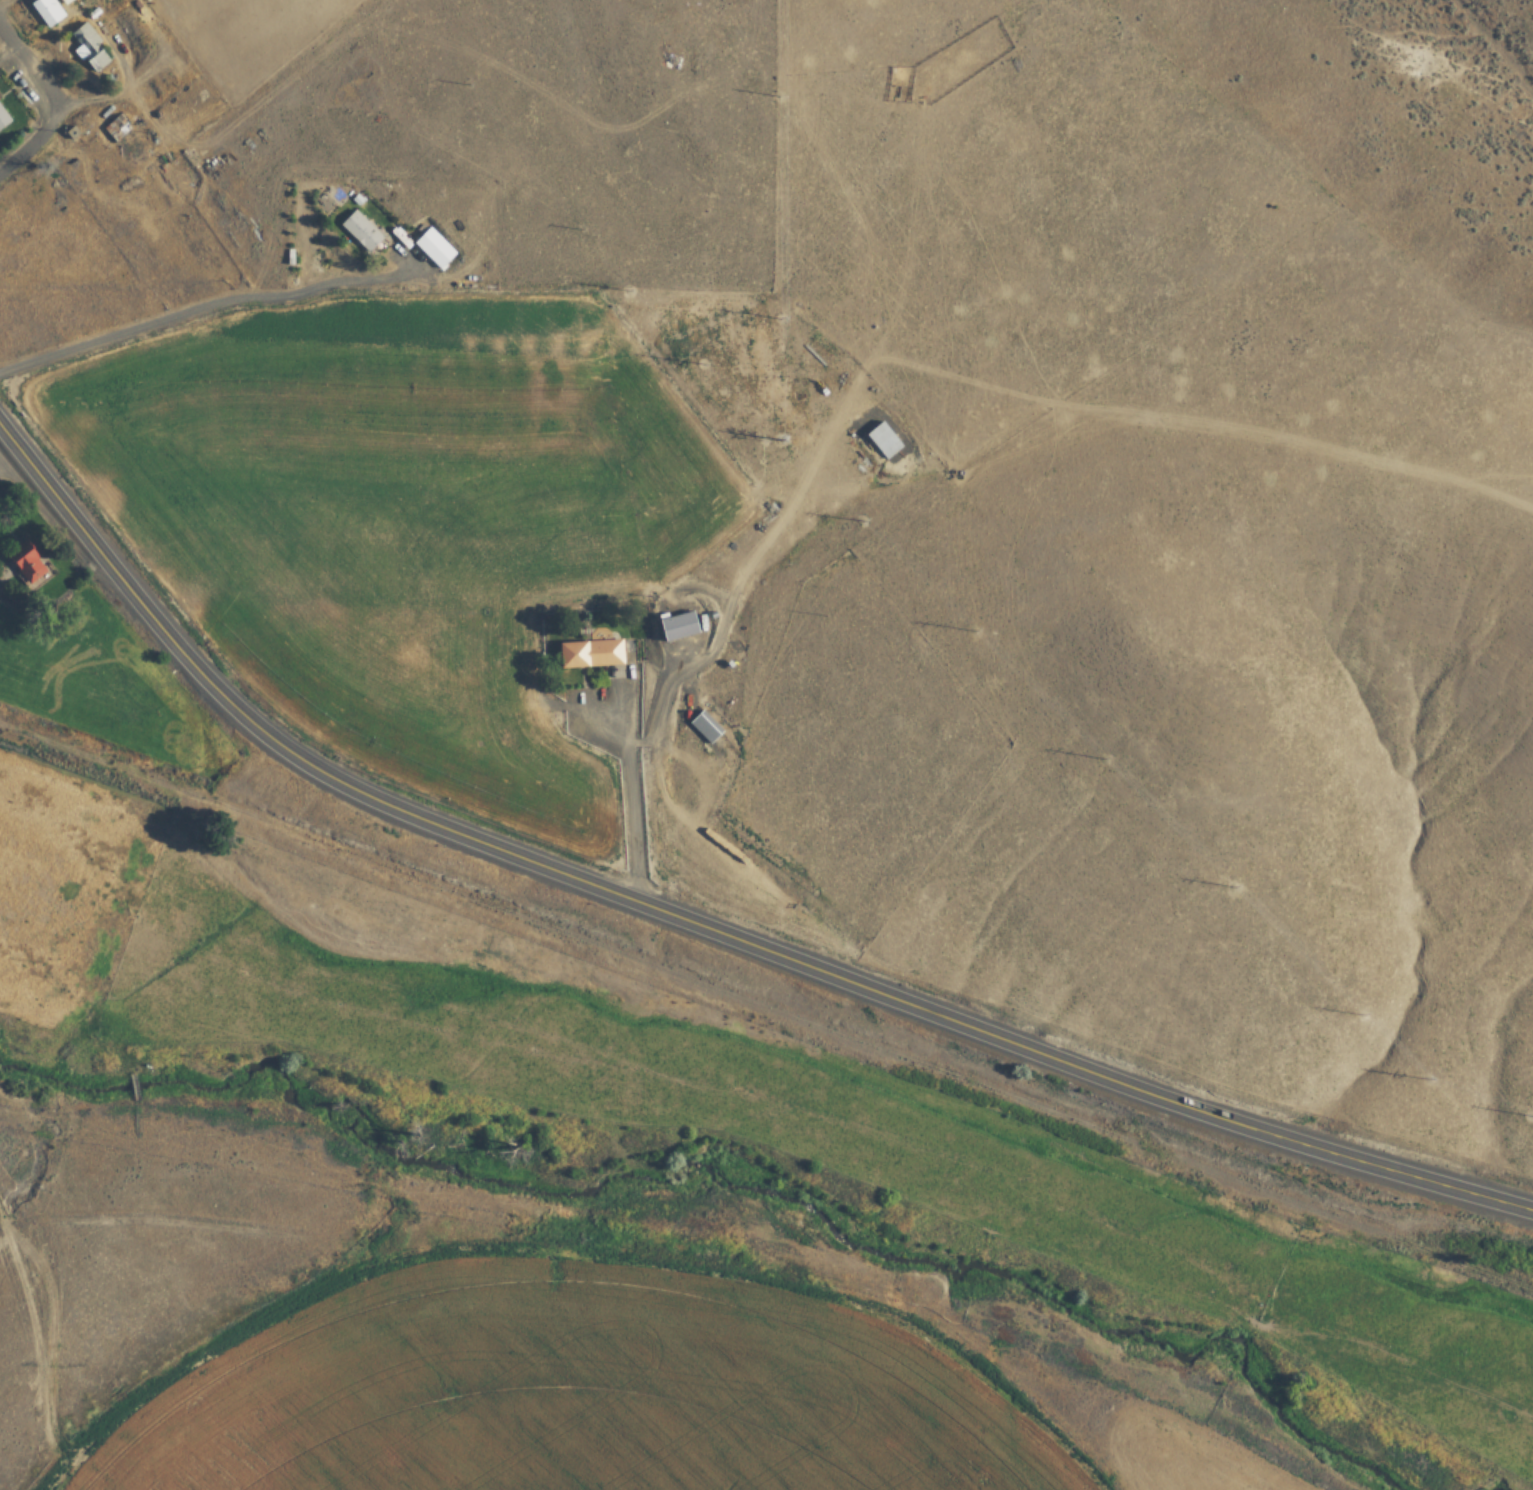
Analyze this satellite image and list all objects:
building: (63, 1)
building: (47, 12)
building: (89, 49)
road: (27, 67)
building: (3, 118)
road: (31, 139)
building: (360, 231)
building: (436, 248)
building: (27, 562)
road: (131, 591)
building: (679, 626)
building: (591, 654)
road: (896, 999)

